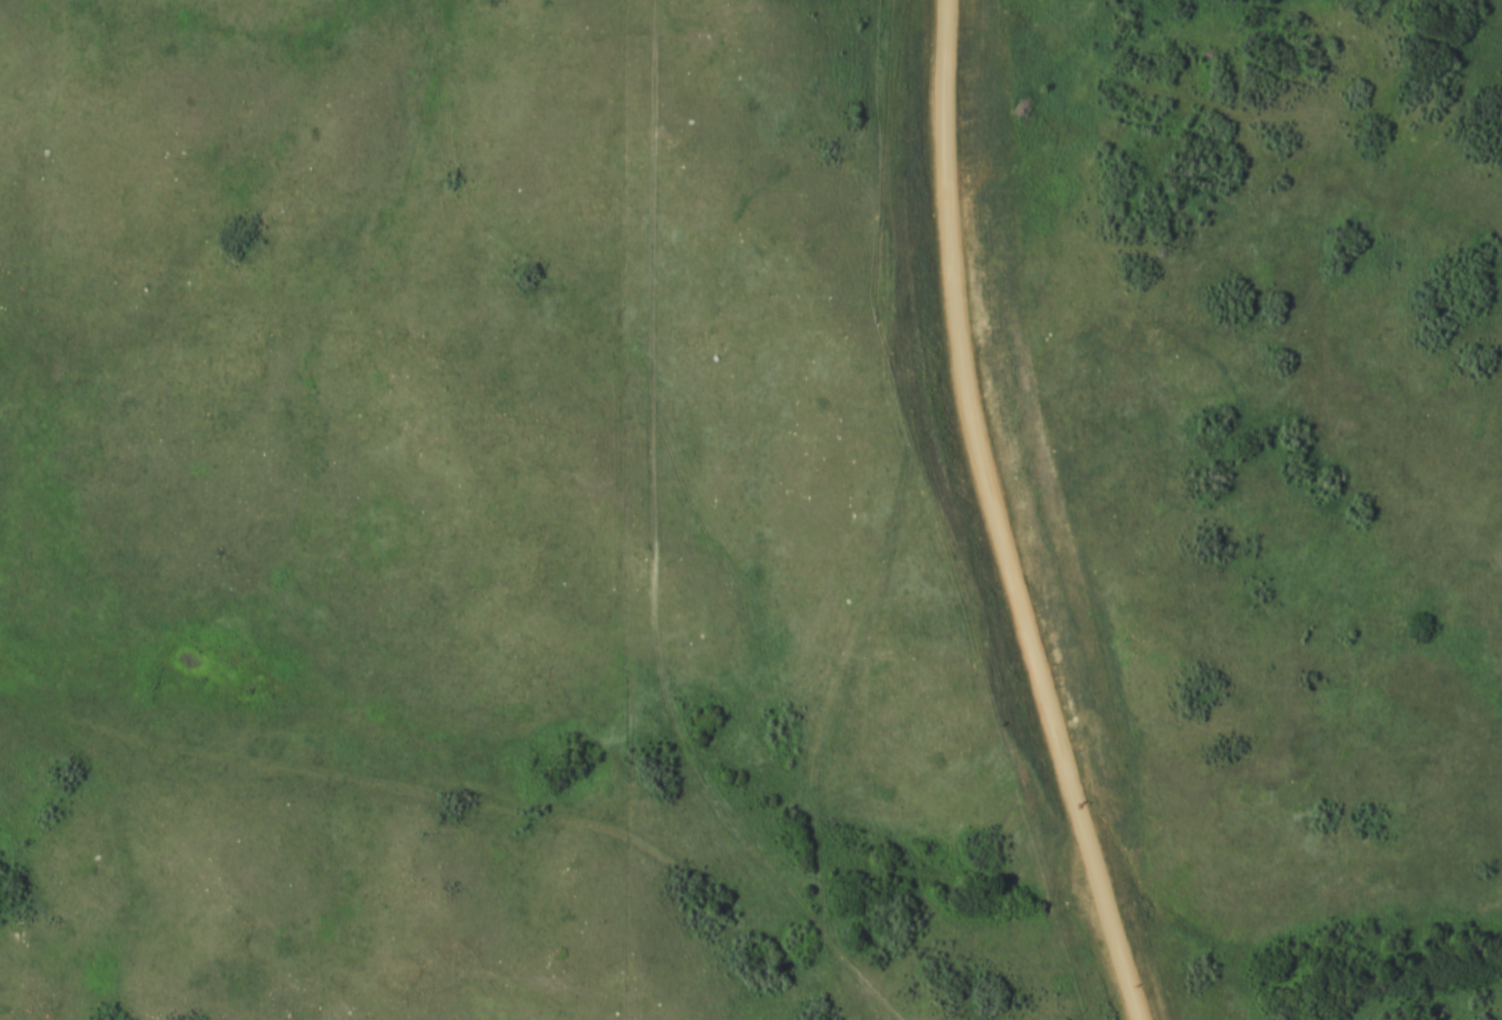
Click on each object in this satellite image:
road: (993, 517)
road: (458, 794)

